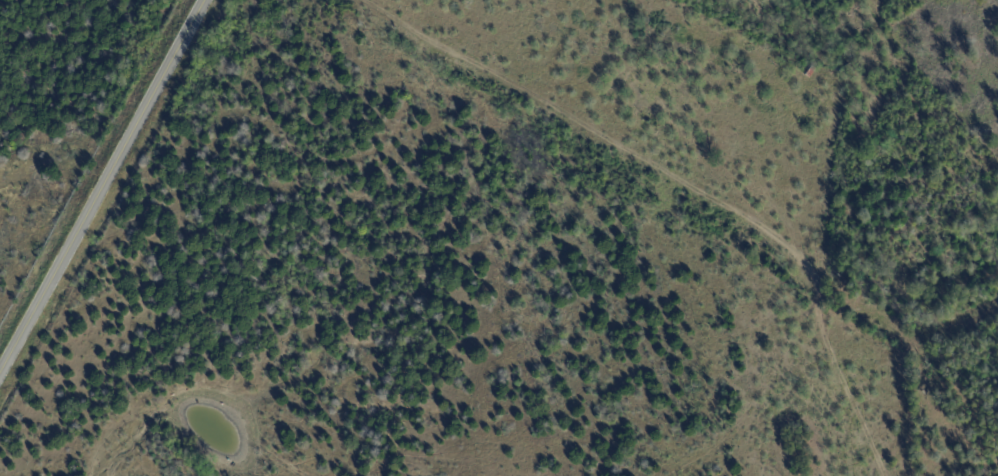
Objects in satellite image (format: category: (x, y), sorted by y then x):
building: (845, 57)
building: (808, 70)
road: (104, 190)

